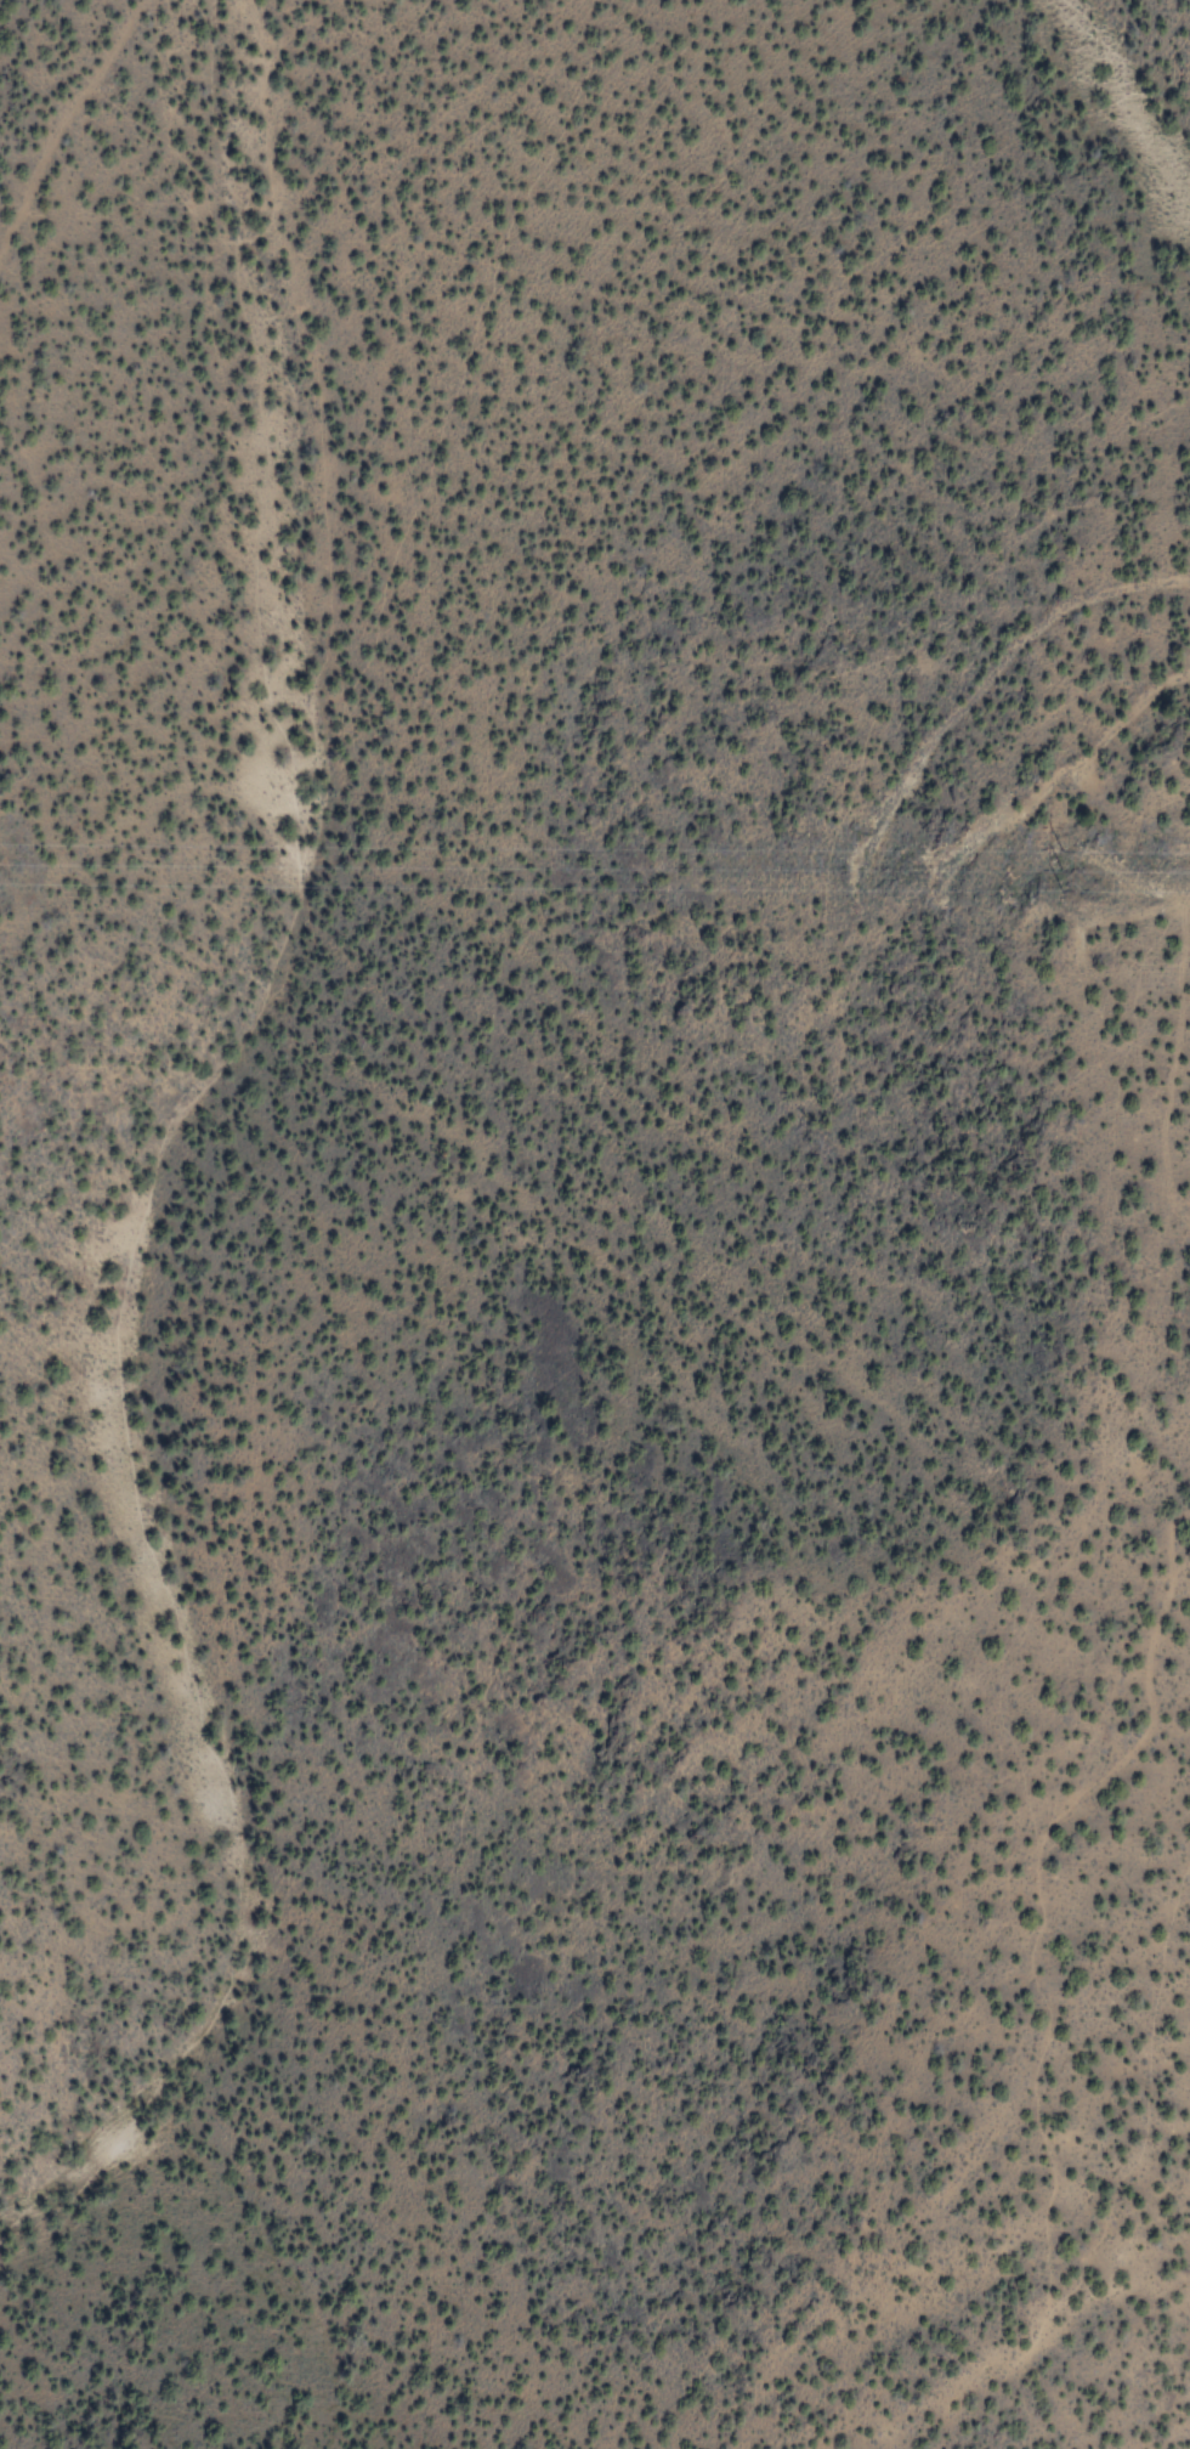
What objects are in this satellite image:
power tower: (1065, 872)

